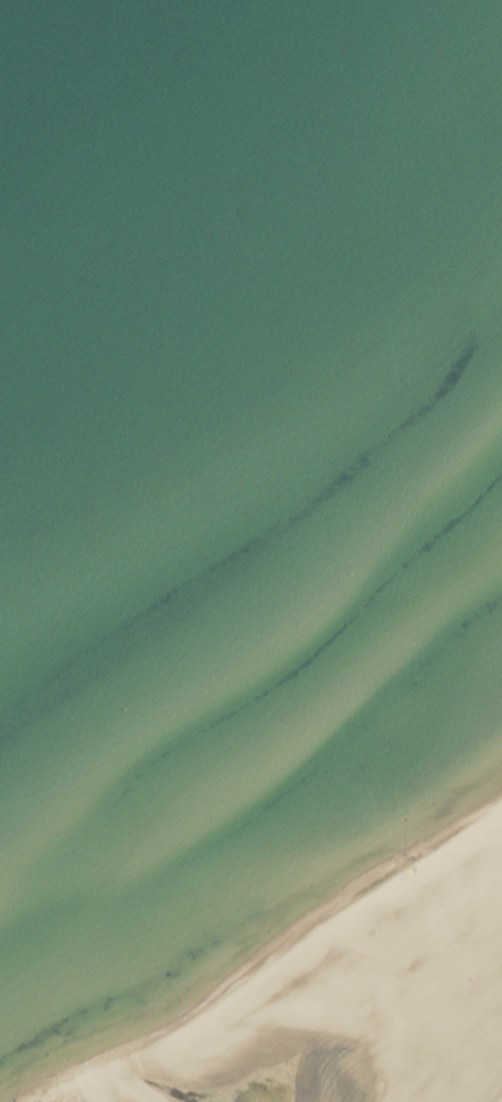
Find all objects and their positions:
park: (322, 981)

